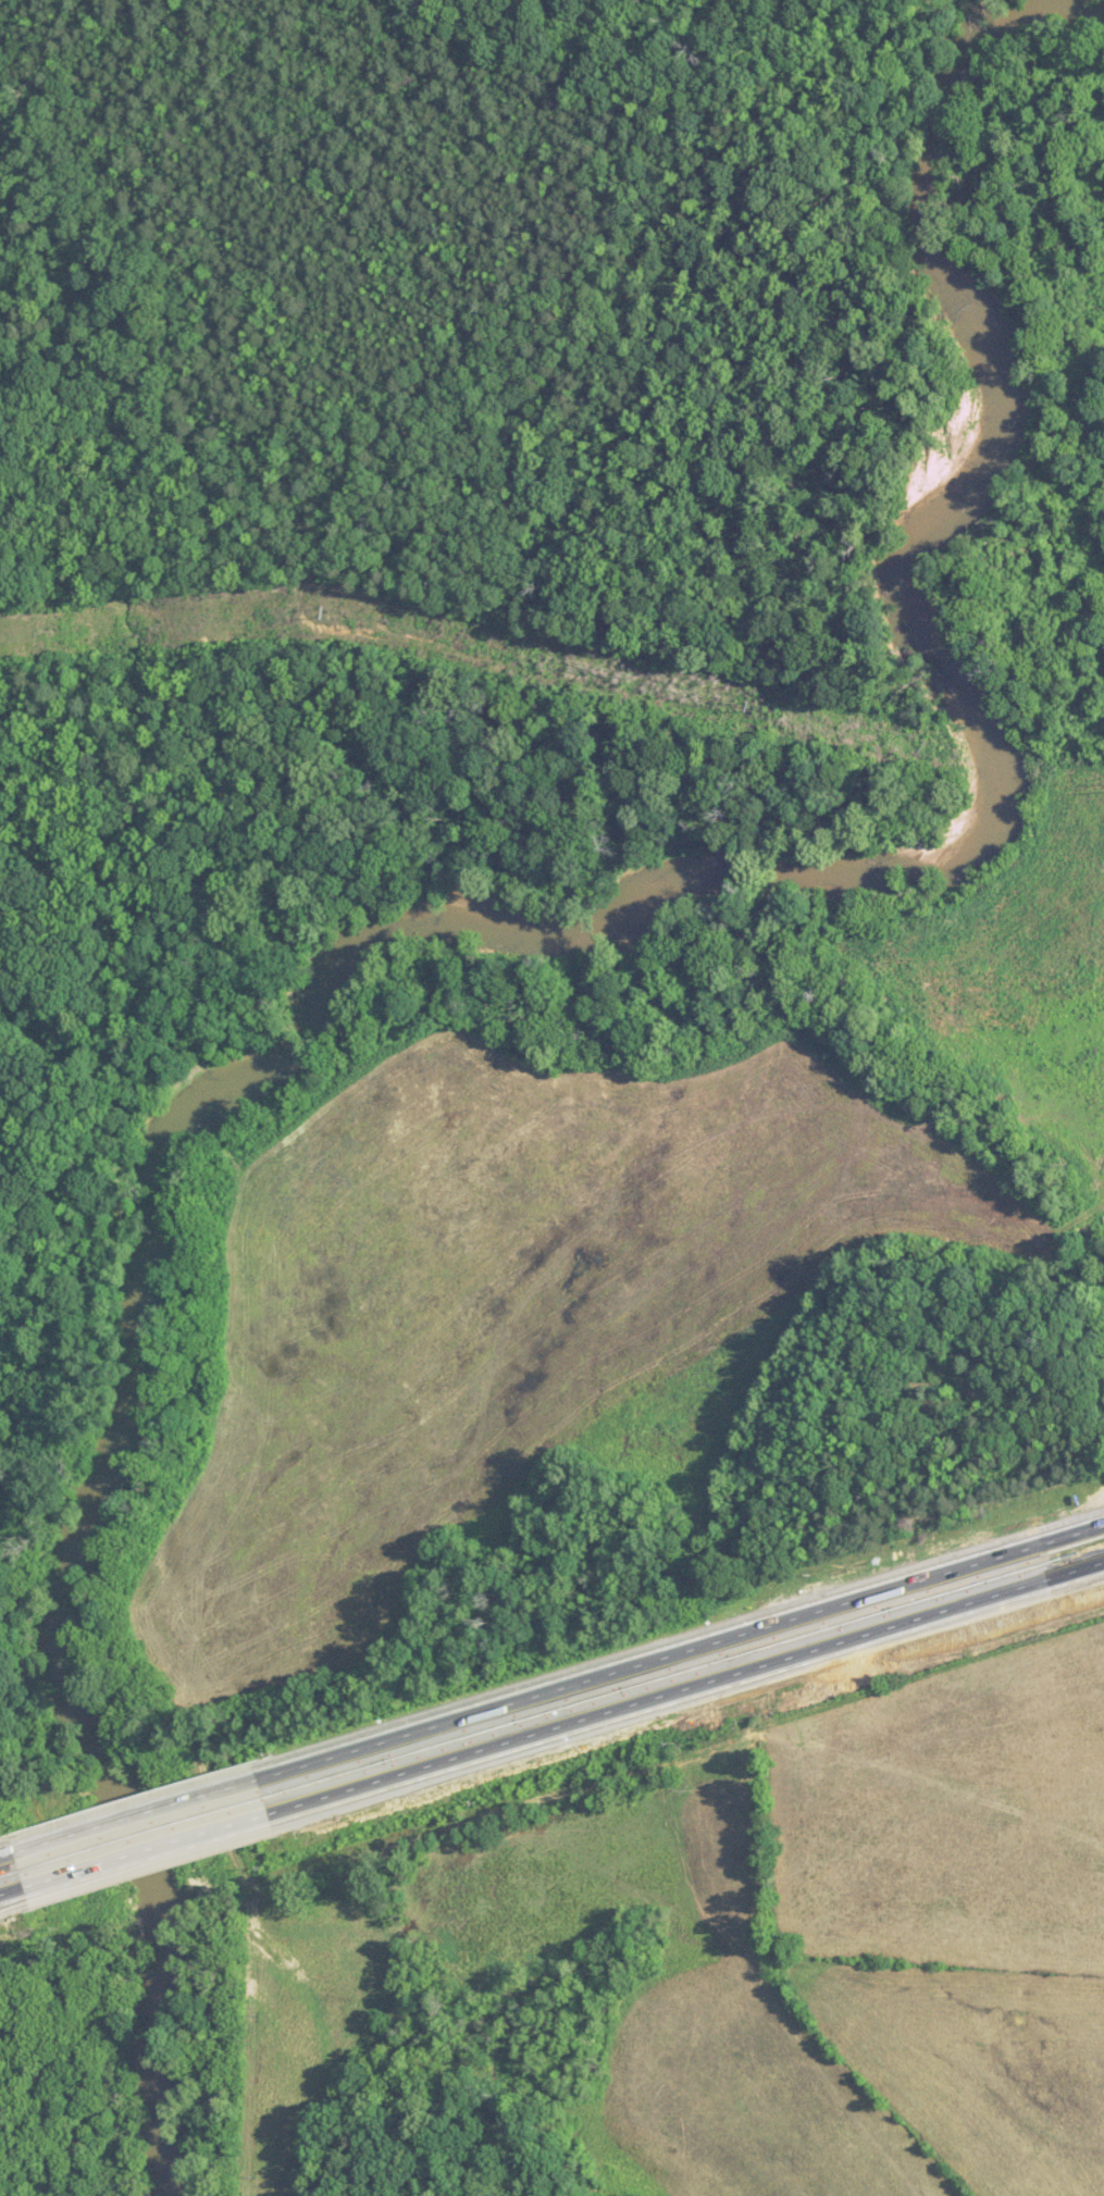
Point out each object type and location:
power tower: (327, 610)
power tower: (753, 703)
road: (680, 1661)
road: (685, 1688)
road: (133, 1831)
road: (145, 1864)
road: (5, 1866)
road: (5, 1868)
road: (10, 1905)

